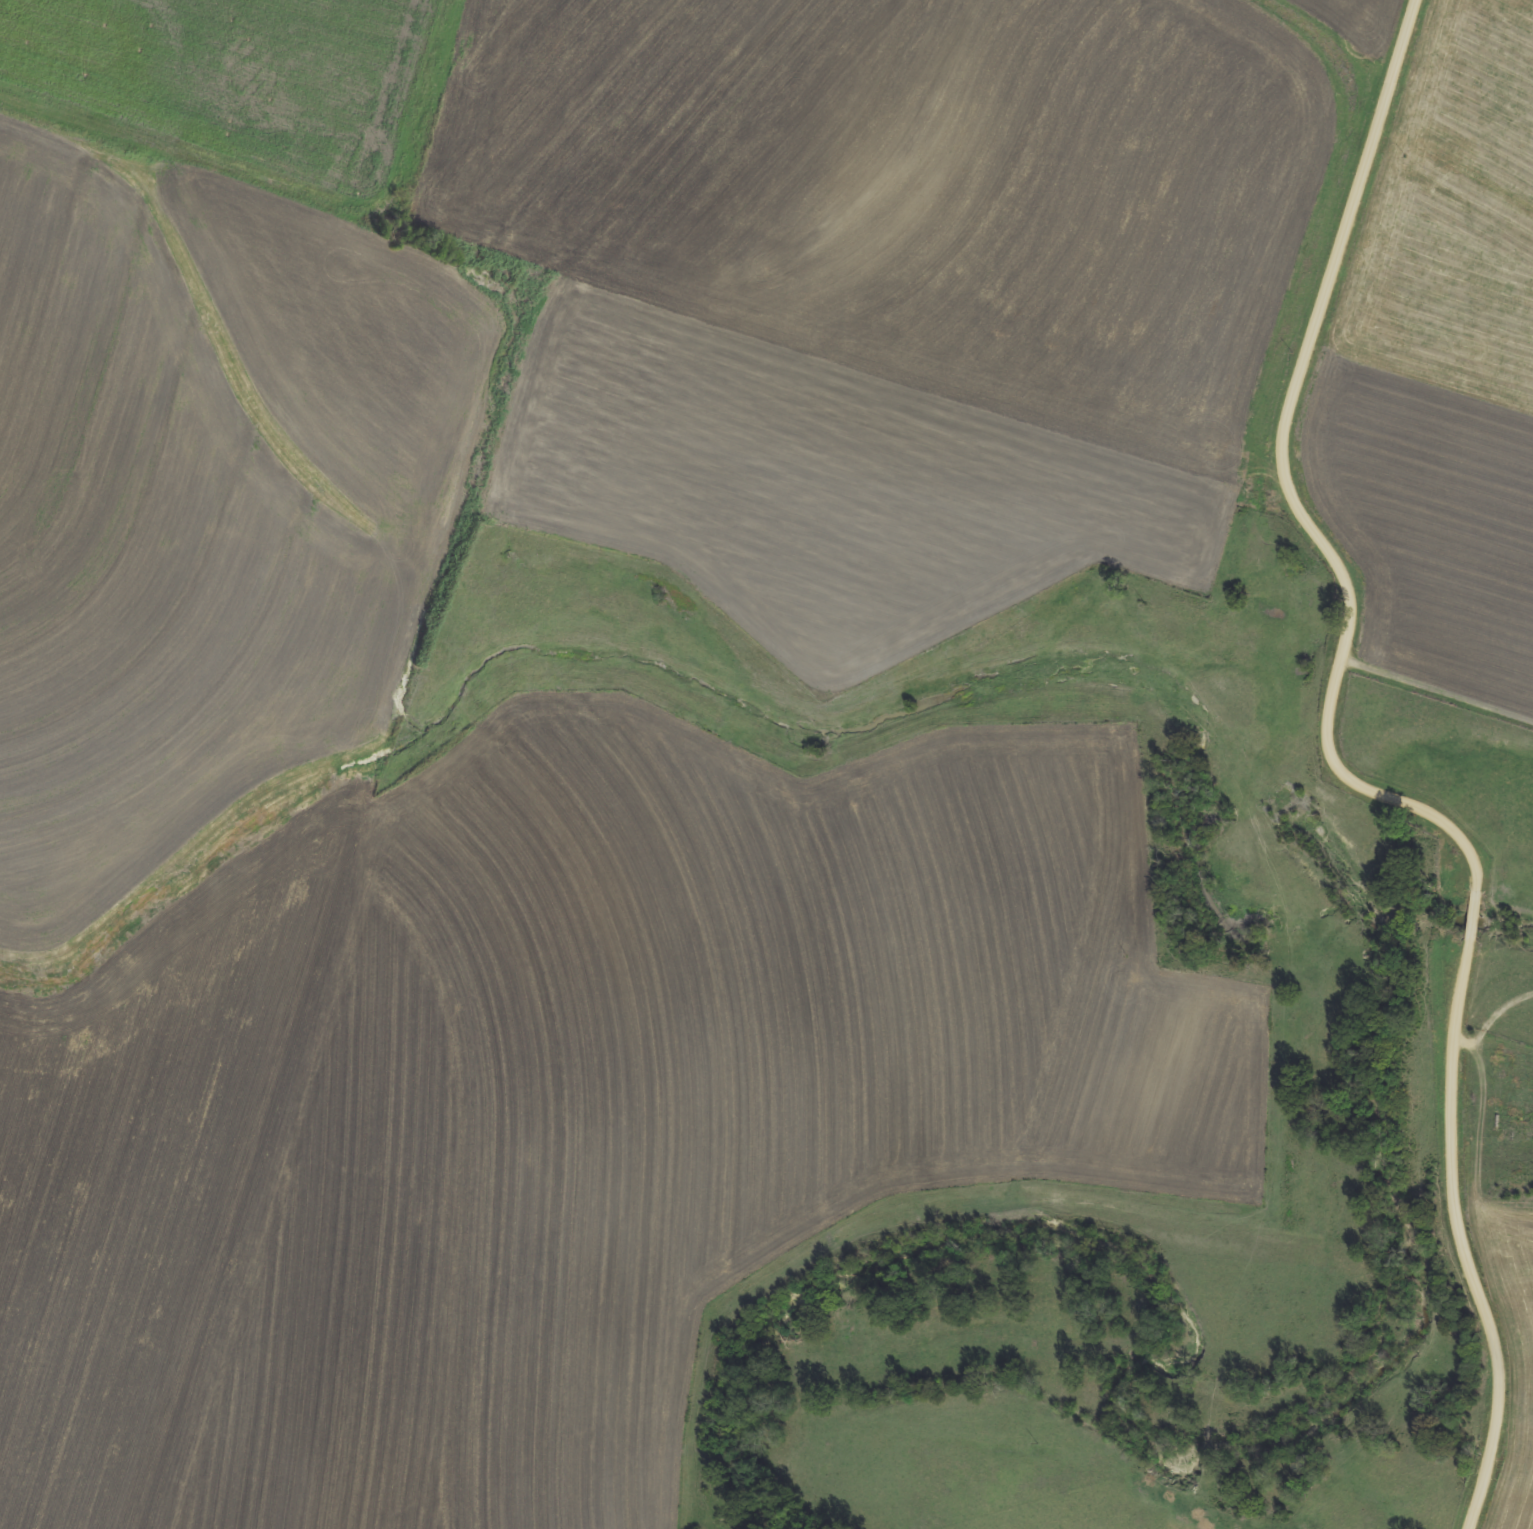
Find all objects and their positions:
road: (1351, 781)

